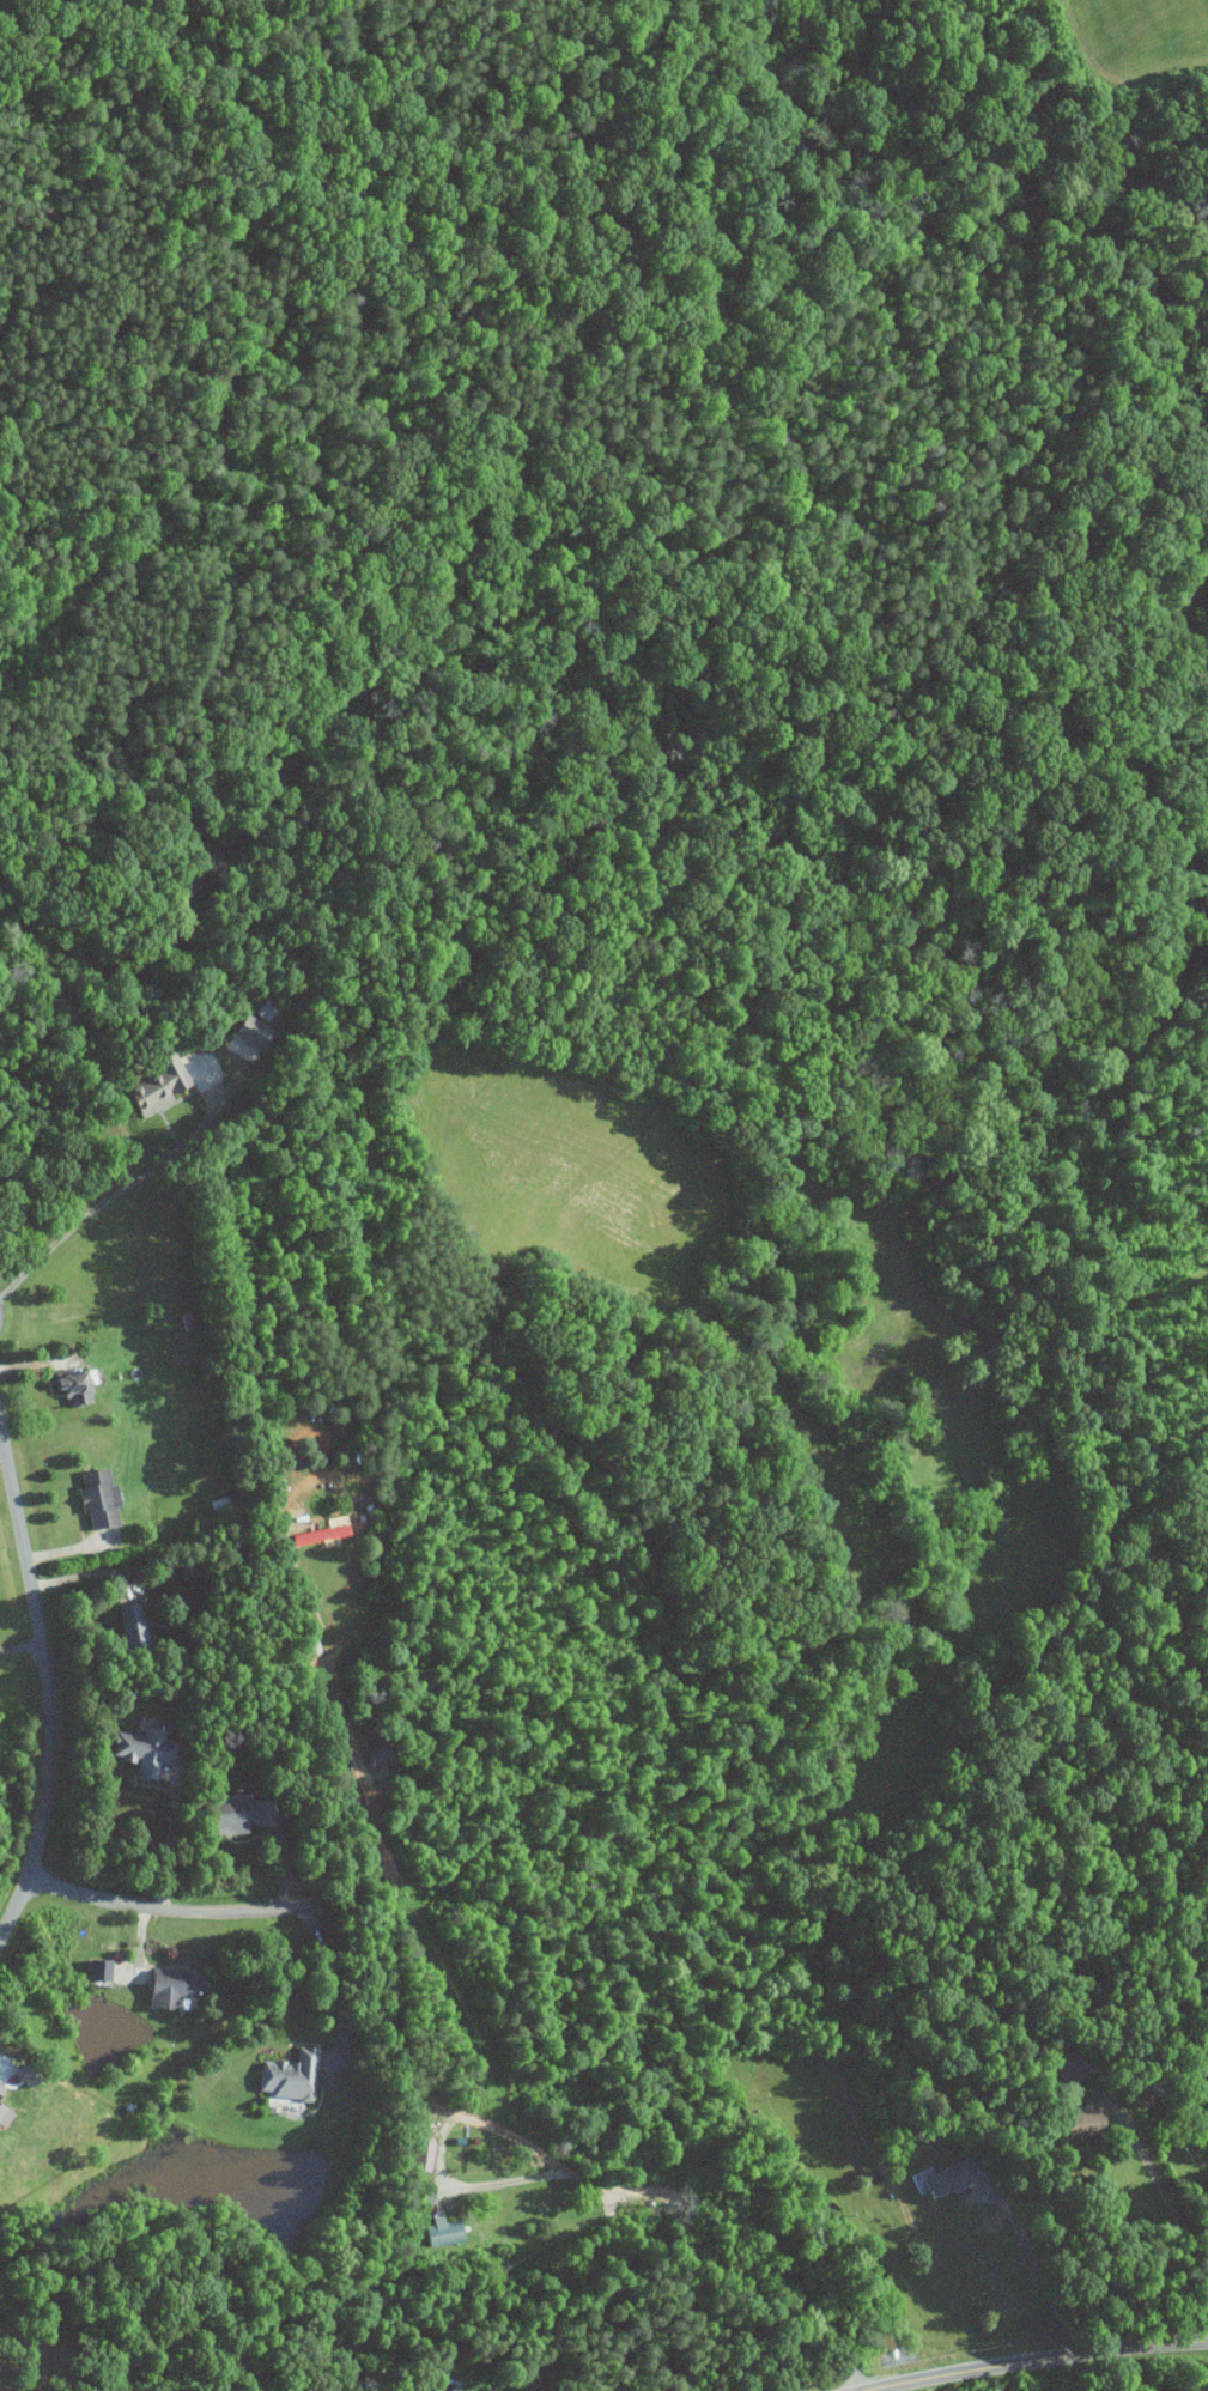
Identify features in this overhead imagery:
building: (249, 1031)
building: (151, 1084)
road: (115, 1193)
road: (1, 1449)
building: (93, 1498)
building: (316, 1534)
road: (84, 1574)
building: (125, 1622)
road: (19, 1649)
road: (45, 1691)
road: (340, 1710)
building: (134, 1750)
building: (369, 1752)
building: (235, 1815)
road: (170, 1844)
road: (165, 1914)
building: (93, 1970)
building: (169, 1986)
road: (336, 1986)
building: (284, 2076)
building: (1, 2116)
building: (1081, 2123)
road: (437, 2148)
building: (418, 2156)
road: (1153, 2173)
building: (943, 2179)
building: (418, 2191)
road: (751, 2228)
building: (439, 2233)
road: (1038, 2274)
road: (1038, 2362)

